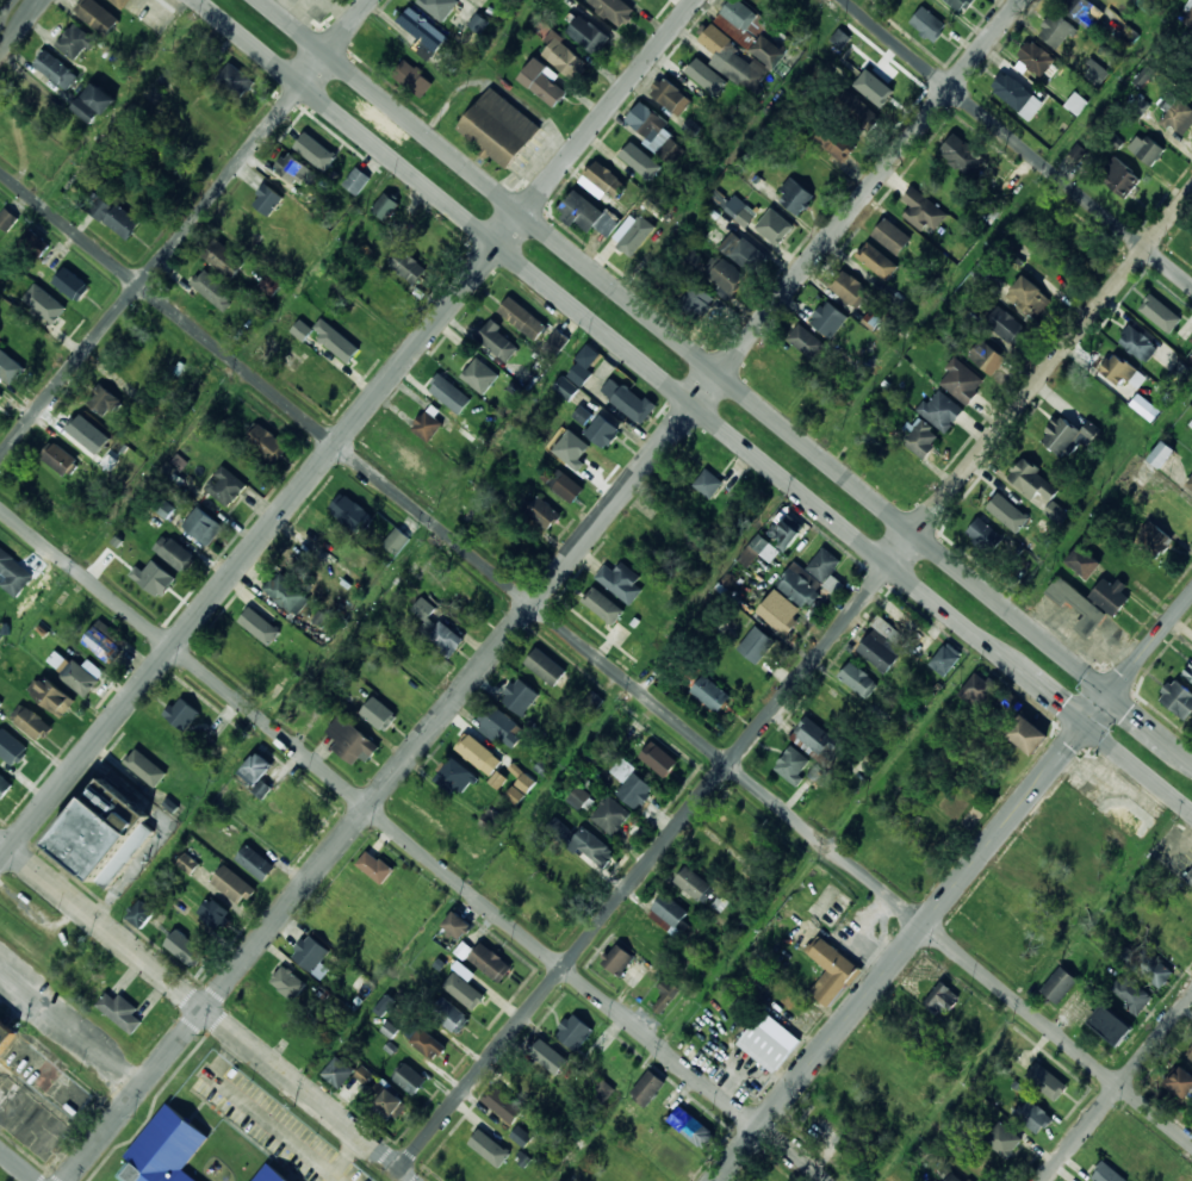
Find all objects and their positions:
building: (120, 2)
building: (763, 4)
building: (962, 4)
road: (5, 5)
building: (440, 7)
building: (614, 10)
building: (1187, 10)
building: (1084, 11)
building: (97, 15)
building: (740, 21)
building: (929, 23)
building: (480, 24)
road: (23, 27)
building: (1057, 31)
building: (423, 33)
building: (590, 36)
building: (1126, 36)
building: (839, 37)
building: (76, 43)
building: (718, 43)
building: (561, 55)
building: (1036, 58)
building: (762, 63)
building: (56, 70)
building: (695, 70)
building: (1095, 74)
building: (409, 76)
building: (1191, 79)
building: (236, 80)
building: (545, 82)
building: (880, 85)
building: (29, 93)
building: (671, 95)
building: (1018, 95)
building: (1075, 102)
building: (94, 104)
building: (859, 108)
building: (1177, 114)
building: (11, 120)
building: (499, 128)
building: (659, 136)
building: (837, 141)
road: (1017, 142)
building: (625, 149)
building: (1148, 149)
building: (321, 151)
building: (1078, 151)
building: (962, 154)
building: (293, 169)
building: (814, 170)
building: (1122, 178)
building: (606, 179)
building: (356, 181)
building: (1012, 185)
building: (794, 195)
building: (267, 199)
building: (385, 205)
building: (921, 210)
building: (740, 211)
building: (588, 213)
building: (116, 217)
building: (7, 219)
building: (764, 222)
road: (20, 229)
road: (186, 230)
building: (892, 236)
building: (428, 240)
building: (33, 243)
building: (628, 244)
building: (743, 251)
building: (224, 259)
building: (875, 261)
building: (1045, 265)
building: (409, 267)
building: (728, 278)
building: (271, 280)
building: (73, 285)
building: (850, 288)
building: (213, 290)
building: (1030, 298)
building: (695, 302)
building: (50, 307)
building: (1162, 313)
building: (523, 318)
building: (828, 318)
building: (1006, 325)
building: (302, 329)
building: (1191, 337)
building: (29, 340)
building: (806, 341)
building: (498, 342)
building: (557, 343)
building: (1138, 343)
building: (341, 349)
building: (987, 356)
building: (10, 367)
building: (1118, 371)
building: (579, 373)
building: (478, 374)
building: (1177, 378)
road: (726, 379)
building: (961, 383)
building: (565, 387)
building: (449, 393)
building: (0, 397)
building: (103, 400)
building: (633, 404)
road: (695, 406)
building: (1144, 406)
building: (940, 410)
building: (583, 415)
building: (1190, 423)
building: (427, 425)
road: (348, 431)
building: (602, 431)
building: (1067, 434)
building: (94, 437)
building: (921, 437)
building: (267, 445)
building: (581, 455)
building: (58, 458)
building: (1153, 464)
building: (124, 473)
building: (708, 483)
building: (1190, 484)
building: (564, 485)
building: (1038, 486)
building: (225, 487)
building: (1004, 509)
building: (350, 512)
building: (544, 514)
building: (1177, 515)
building: (203, 526)
building: (786, 530)
building: (986, 536)
building: (1154, 539)
building: (397, 541)
building: (764, 548)
building: (110, 553)
building: (175, 553)
building: (1084, 561)
building: (824, 565)
building: (13, 572)
building: (155, 579)
building: (620, 582)
building: (832, 584)
building: (799, 588)
road: (545, 590)
building: (287, 593)
building: (1110, 595)
building: (595, 602)
building: (1080, 608)
building: (778, 616)
building: (895, 619)
building: (262, 624)
building: (437, 629)
building: (915, 639)
building: (105, 641)
building: (757, 645)
building: (880, 651)
building: (238, 652)
road: (596, 654)
building: (946, 658)
building: (424, 665)
building: (546, 667)
building: (1188, 672)
building: (77, 677)
road: (796, 680)
building: (858, 680)
building: (398, 689)
building: (977, 689)
building: (712, 694)
traffic signals: (1111, 694)
building: (520, 696)
building: (54, 697)
building: (1178, 698)
building: (592, 701)
building: (1008, 701)
building: (0, 702)
building: (182, 713)
building: (379, 714)
building: (33, 723)
traffic signals: (1086, 726)
building: (502, 728)
building: (1029, 735)
building: (817, 741)
building: (354, 742)
building: (479, 754)
building: (21, 756)
building: (659, 759)
building: (142, 765)
building: (793, 765)
building: (257, 769)
building: (455, 778)
building: (497, 779)
building: (524, 782)
building: (5, 788)
building: (635, 790)
building: (515, 794)
building: (578, 797)
building: (837, 803)
building: (610, 816)
building: (1076, 816)
building: (738, 829)
building: (103, 831)
building: (281, 837)
building: (581, 841)
road: (414, 843)
road: (825, 846)
building: (715, 858)
building: (911, 862)
building: (187, 863)
building: (256, 863)
building: (1028, 864)
building: (375, 868)
building: (569, 872)
building: (1190, 877)
building: (234, 885)
building: (695, 885)
road: (468, 887)
road: (955, 887)
building: (1002, 897)
building: (671, 910)
building: (1182, 910)
building: (142, 914)
building: (215, 914)
building: (331, 924)
building: (457, 925)
building: (1056, 934)
building: (1177, 940)
building: (185, 949)
building: (311, 953)
building: (619, 959)
building: (491, 963)
building: (1147, 966)
building: (464, 970)
building: (833, 971)
building: (288, 983)
building: (1060, 986)
building: (471, 993)
road: (1031, 993)
building: (1132, 994)
building: (665, 995)
building: (942, 1000)
building: (384, 1005)
road: (209, 1011)
building: (122, 1013)
building: (449, 1015)
building: (1113, 1026)
building: (576, 1032)
building: (6, 1038)
building: (426, 1042)
building: (770, 1043)
building: (1190, 1053)
building: (551, 1057)
building: (1191, 1058)
building: (339, 1073)
building: (364, 1074)
building: (411, 1080)
building: (533, 1083)
building: (1181, 1083)
building: (650, 1088)
road: (1117, 1088)
building: (604, 1089)
building: (1056, 1089)
building: (387, 1101)
building: (507, 1107)
building: (1036, 1117)
building: (691, 1127)
building: (521, 1136)
building: (486, 1139)
building: (1007, 1140)
building: (611, 1145)
building: (166, 1149)
building: (1135, 1150)
road: (18, 1166)
building: (1107, 1174)
building: (271, 1175)
building: (957, 1177)
building: (969, 1179)

